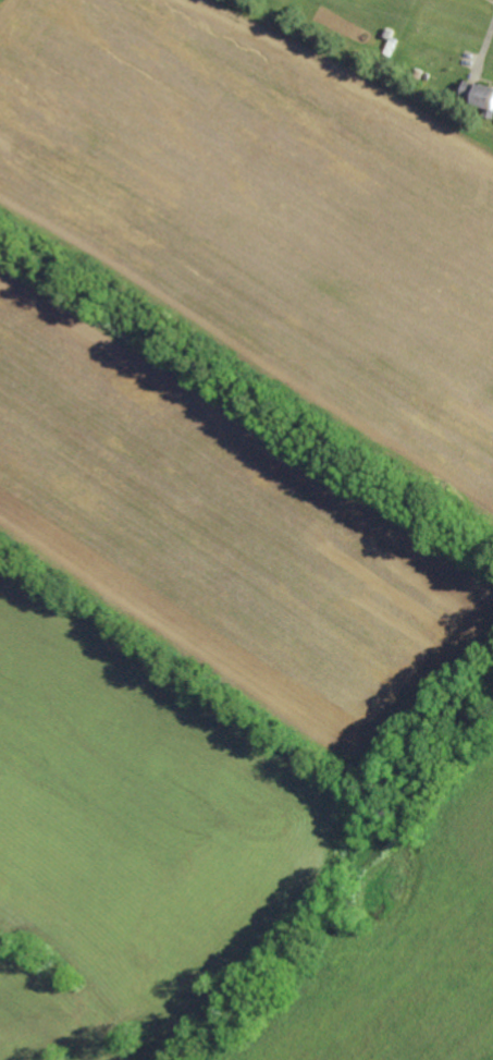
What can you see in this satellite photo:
building: (387, 32)
building: (417, 71)
building: (424, 74)
building: (480, 93)

